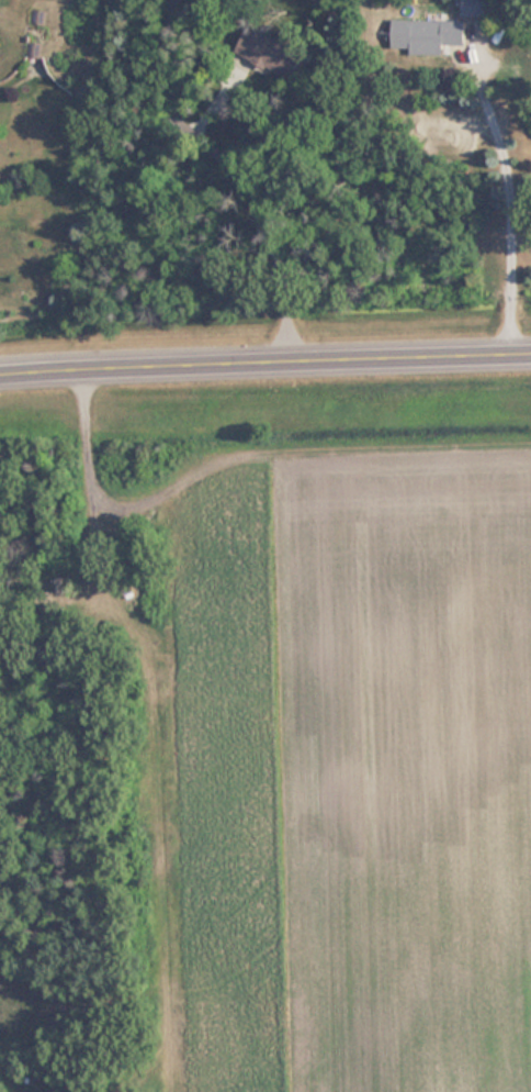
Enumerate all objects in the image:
building: (478, 7)
building: (43, 16)
building: (439, 34)
building: (265, 49)
road: (264, 359)

